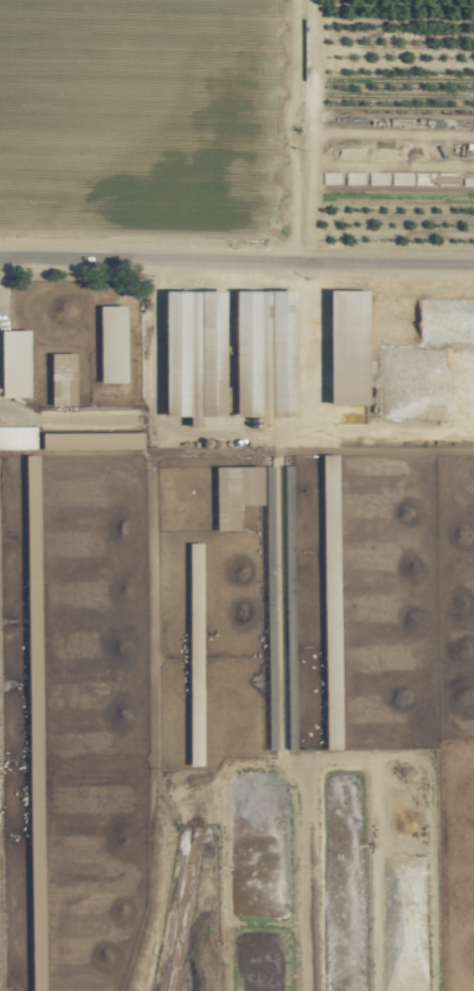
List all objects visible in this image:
crop: (391, 131)
road: (237, 263)
building: (188, 318)
building: (13, 363)
building: (61, 375)
building: (16, 437)
building: (237, 482)
crop: (237, 495)
crop: (236, 622)

